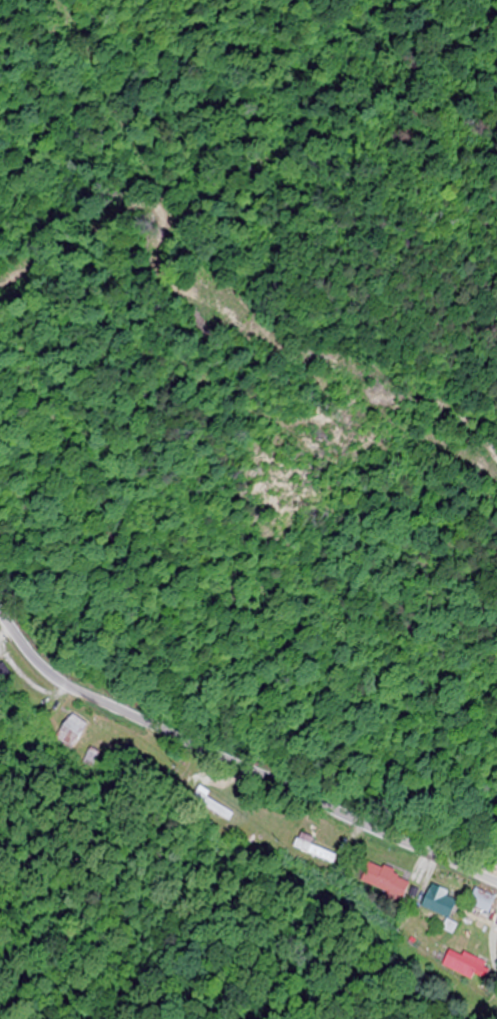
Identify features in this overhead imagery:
building: (77, 727)
road: (237, 763)
building: (213, 801)
building: (316, 847)
building: (387, 875)
building: (483, 897)
building: (440, 898)
building: (467, 961)

